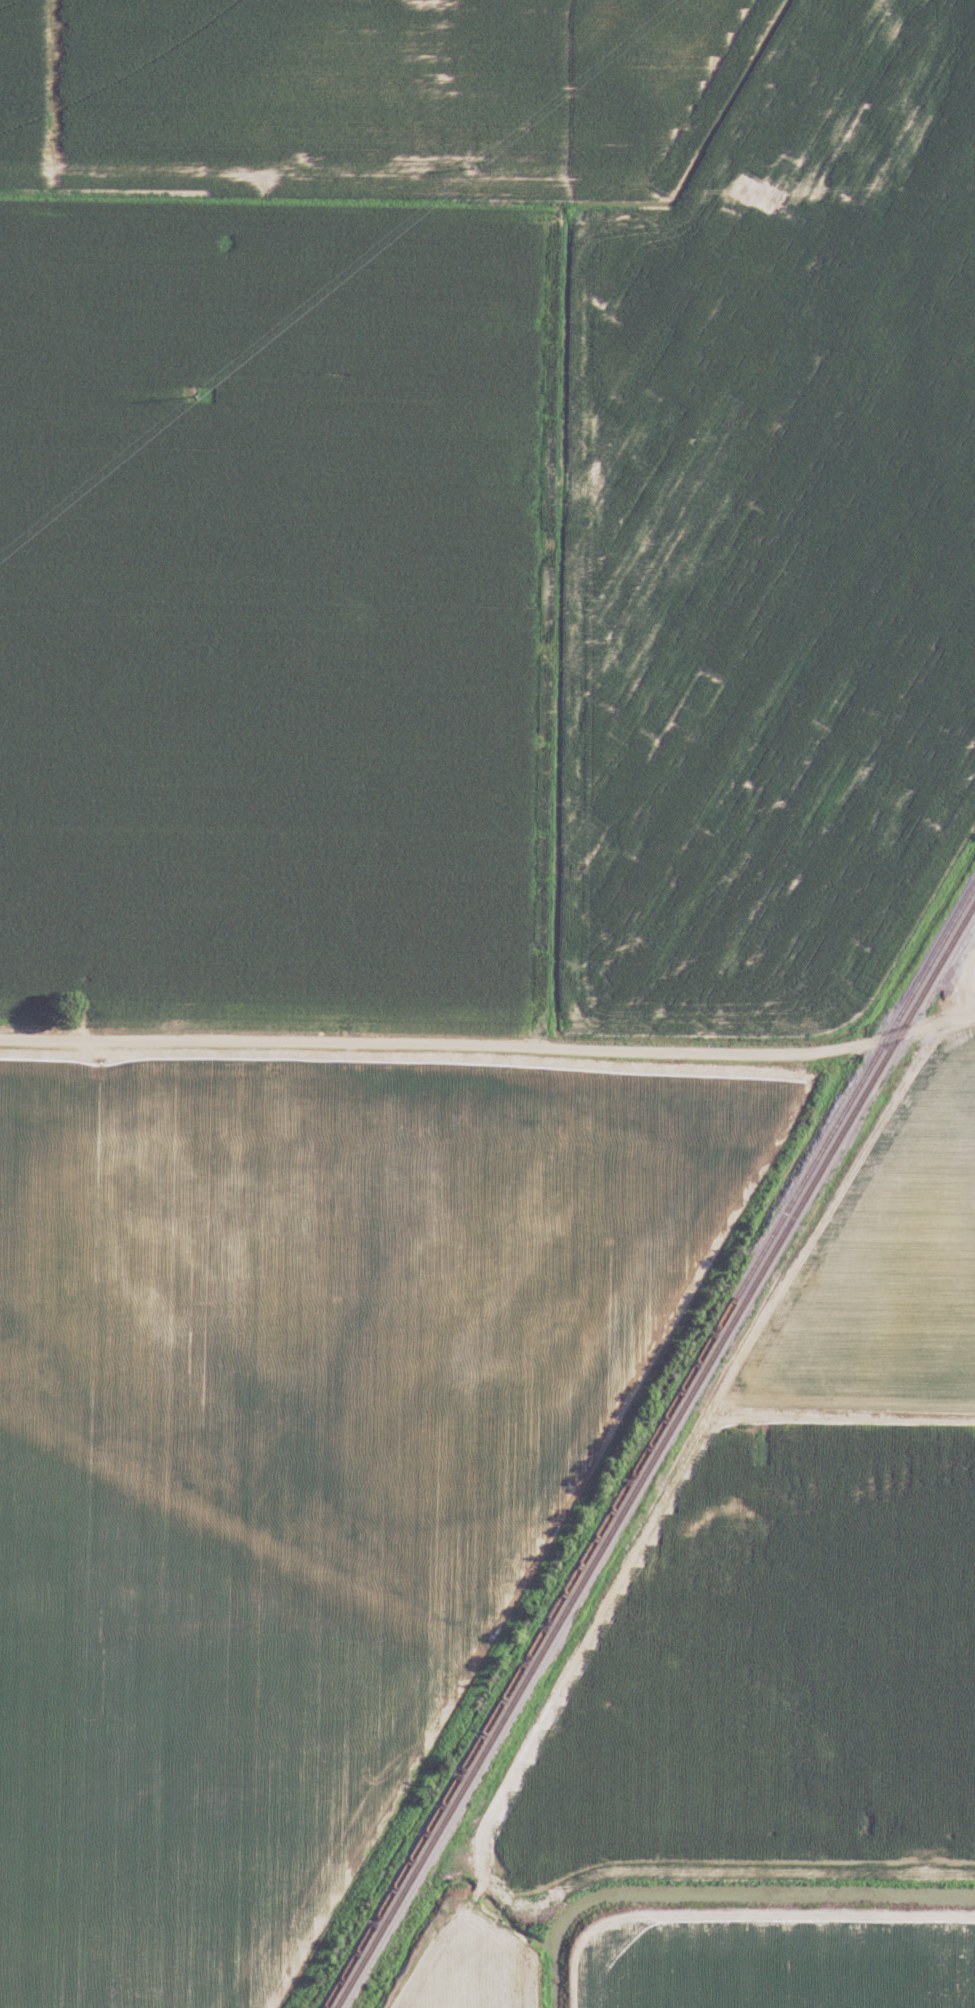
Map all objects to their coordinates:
power tower: (472, 166)
power tower: (196, 394)
road: (489, 1047)
railway: (649, 1445)
railway: (655, 1454)

